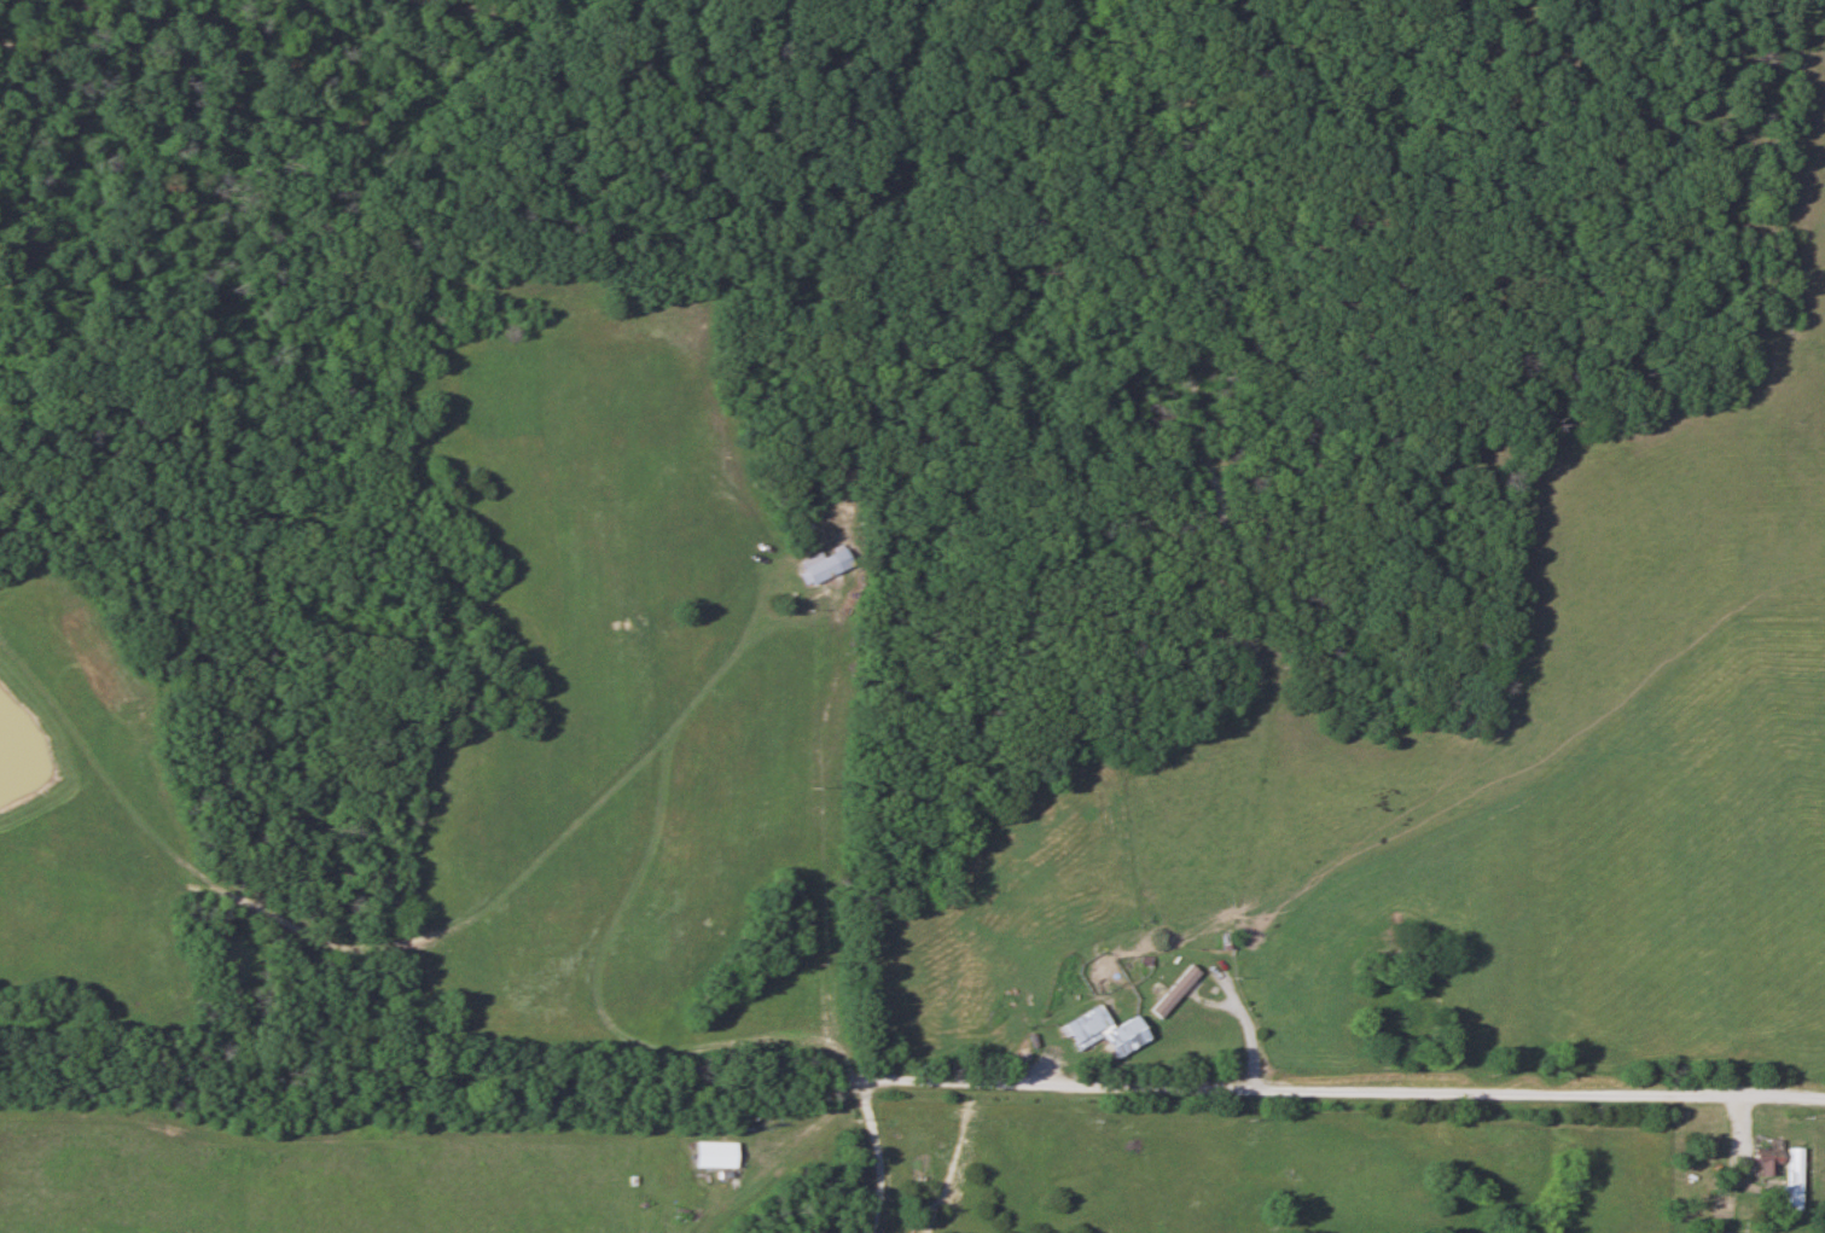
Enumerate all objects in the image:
building: (823, 565)
building: (1172, 993)
building: (1103, 1033)
road: (948, 1082)
road: (1435, 1090)
building: (711, 1155)
building: (1765, 1159)
building: (1792, 1179)
building: (1720, 1232)

